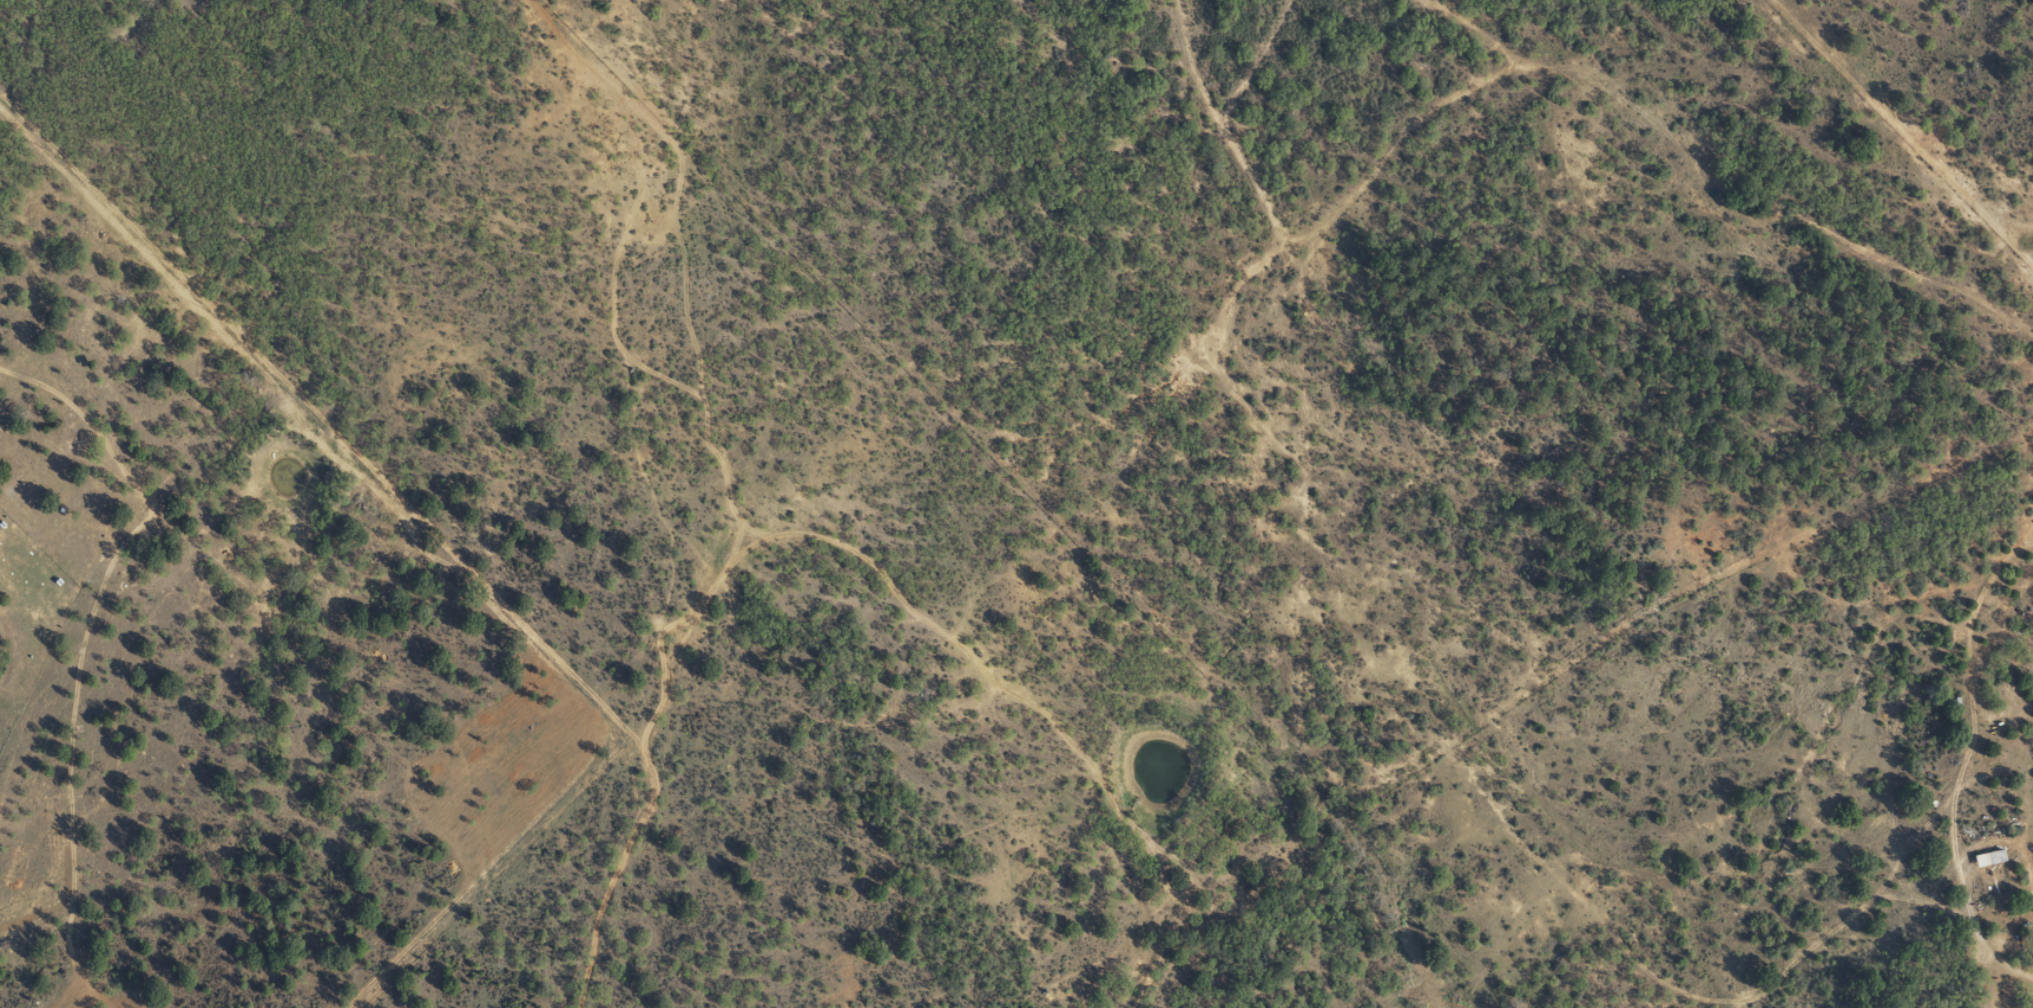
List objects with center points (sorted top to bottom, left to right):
road: (1550, 99)
road: (689, 620)
road: (1476, 792)

